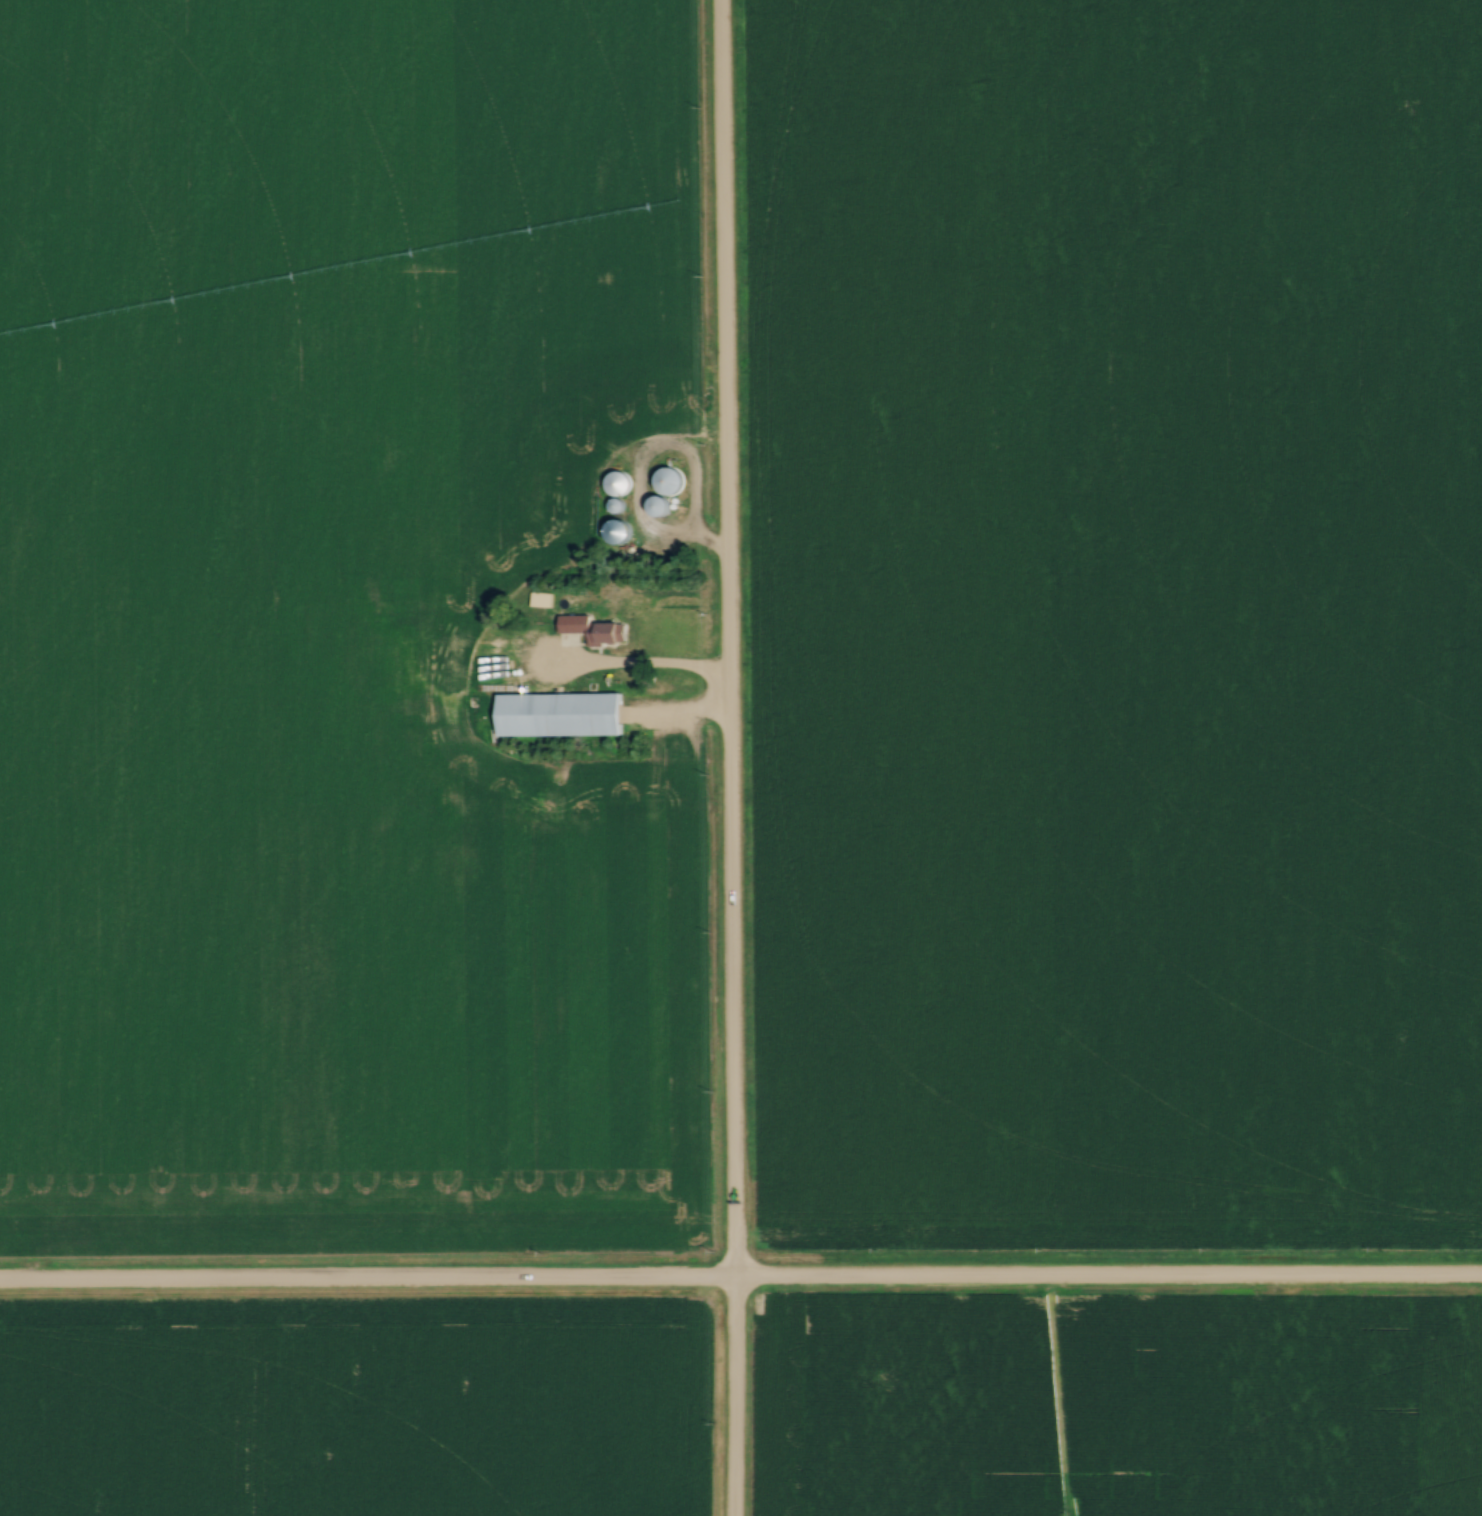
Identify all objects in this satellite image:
building: (671, 481)
building: (621, 484)
building: (566, 603)
building: (598, 630)
building: (433, 652)
building: (494, 657)
road: (638, 670)
building: (563, 714)
road: (723, 758)
road: (740, 1283)

